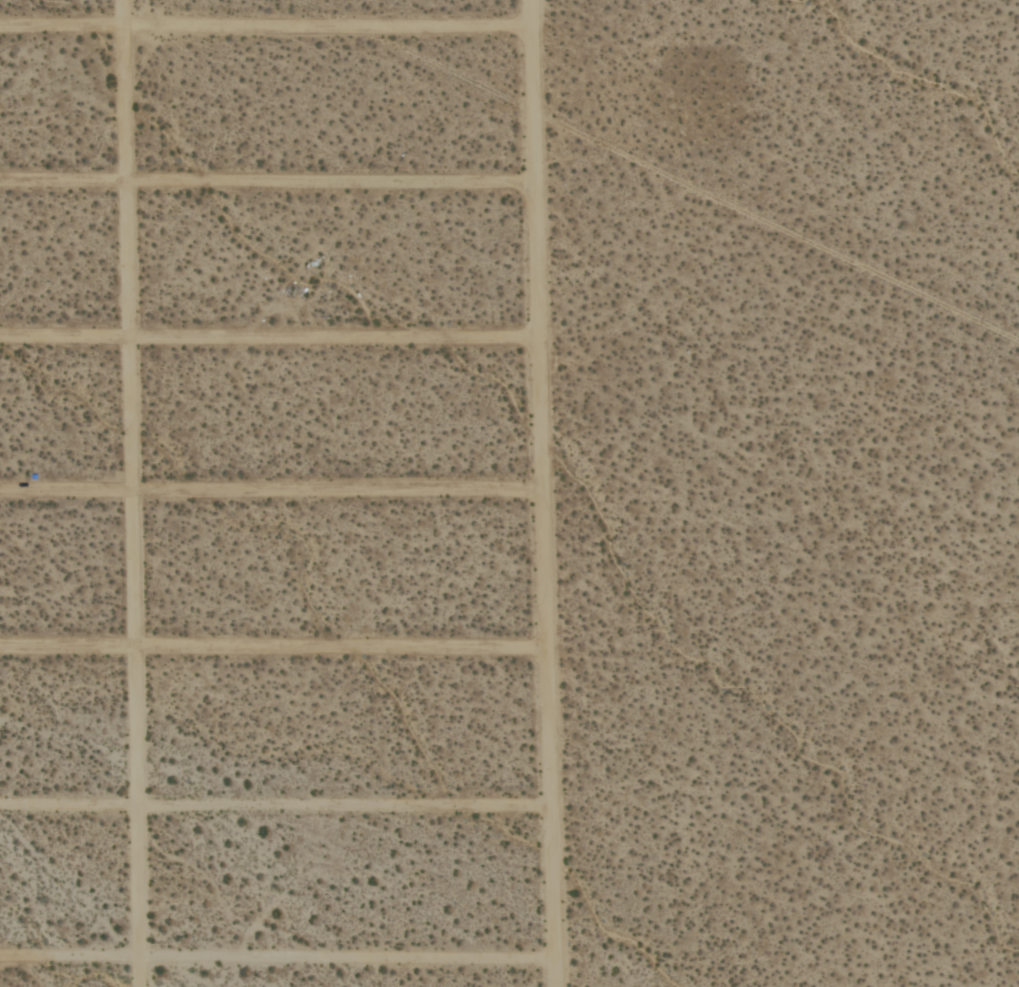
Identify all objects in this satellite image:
road: (266, 25)
road: (267, 182)
road: (268, 337)
road: (270, 490)
road: (133, 493)
road: (542, 493)
road: (273, 646)
road: (275, 806)
road: (277, 957)

